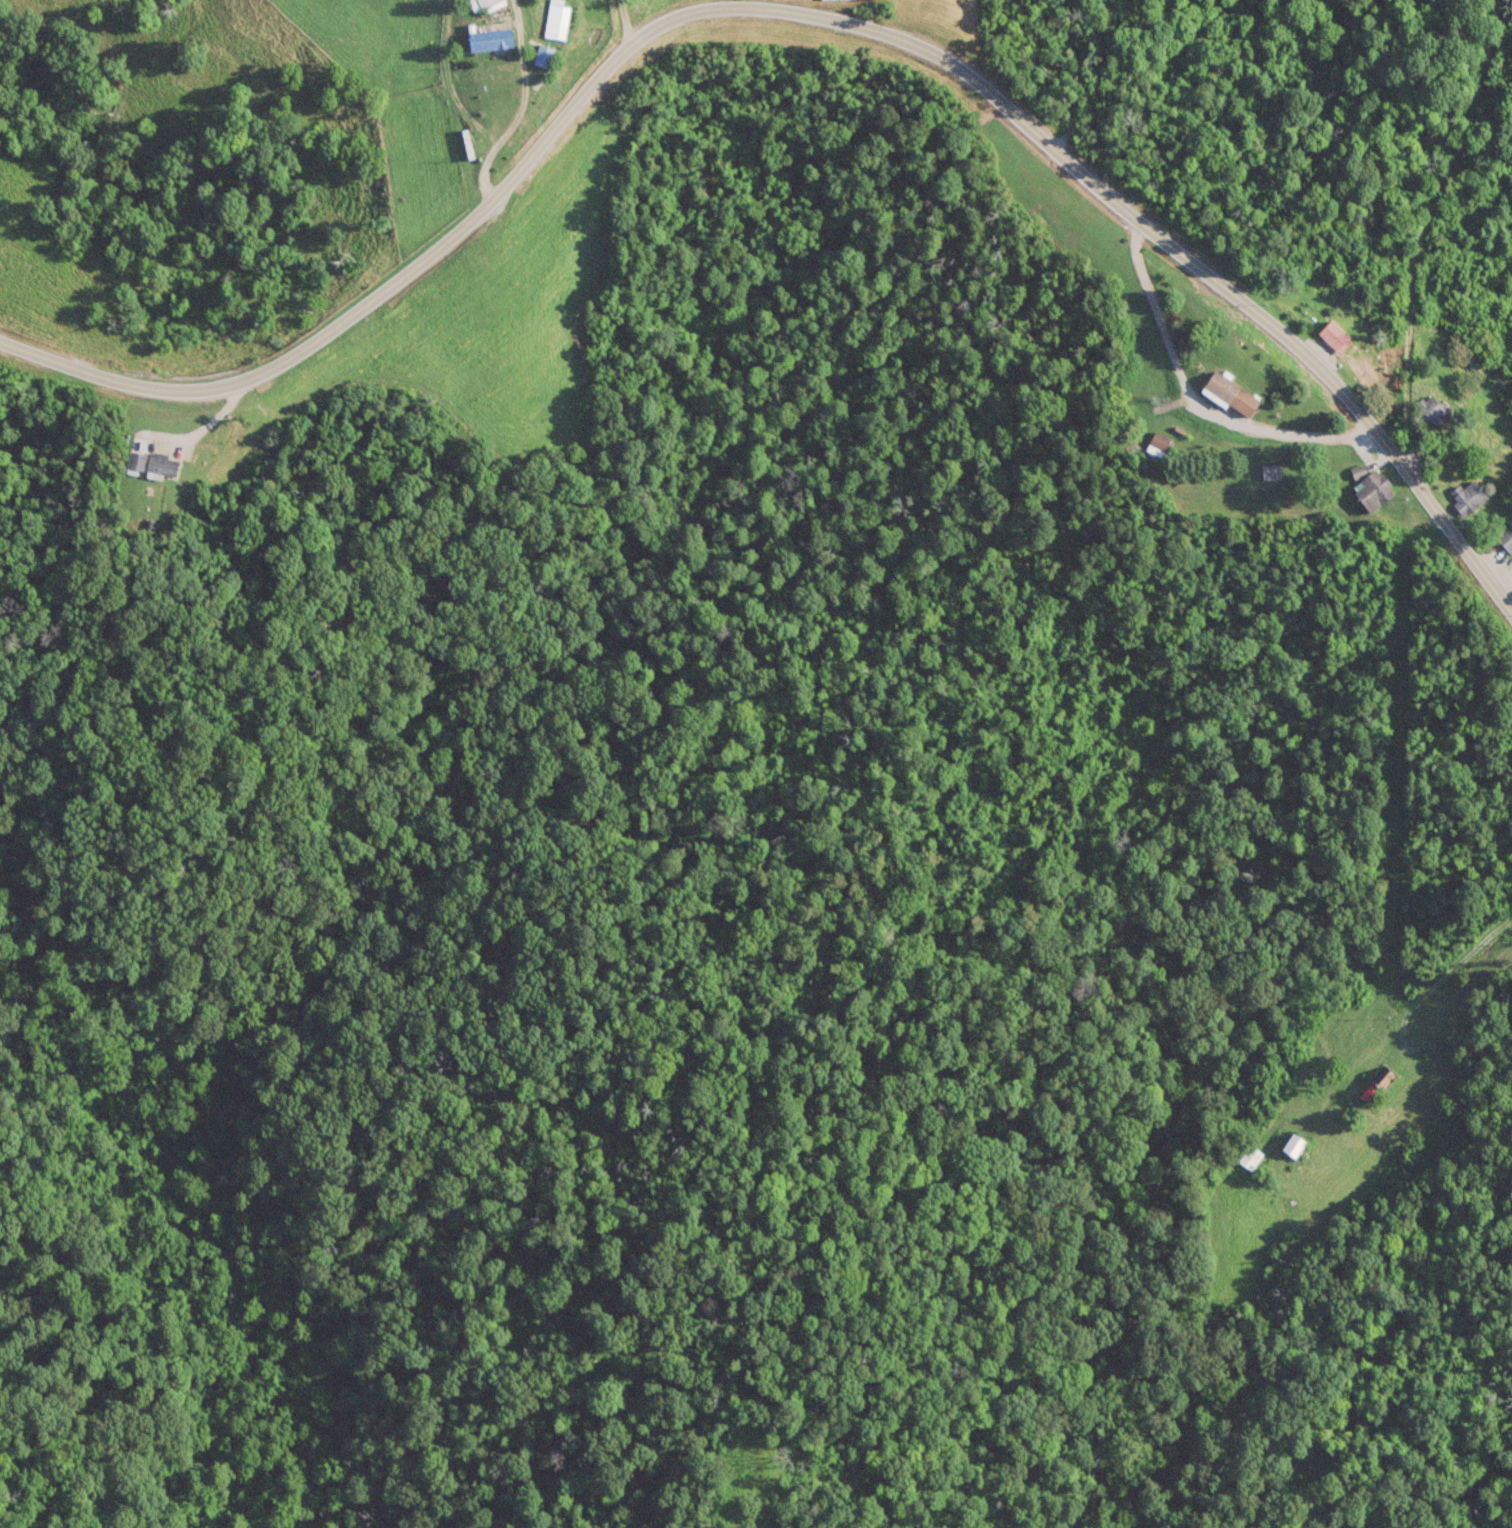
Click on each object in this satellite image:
building: (483, 4)
road: (798, 14)
building: (556, 19)
building: (489, 39)
road: (519, 108)
building: (1334, 335)
building: (1230, 394)
road: (1195, 403)
building: (1431, 411)
building: (1157, 443)
building: (151, 463)
building: (1357, 470)
building: (1269, 472)
building: (1372, 490)
building: (1468, 497)
building: (1505, 537)
road: (1444, 975)
building: (1375, 1085)
building: (1293, 1143)
building: (1248, 1156)
road: (1472, 1517)

